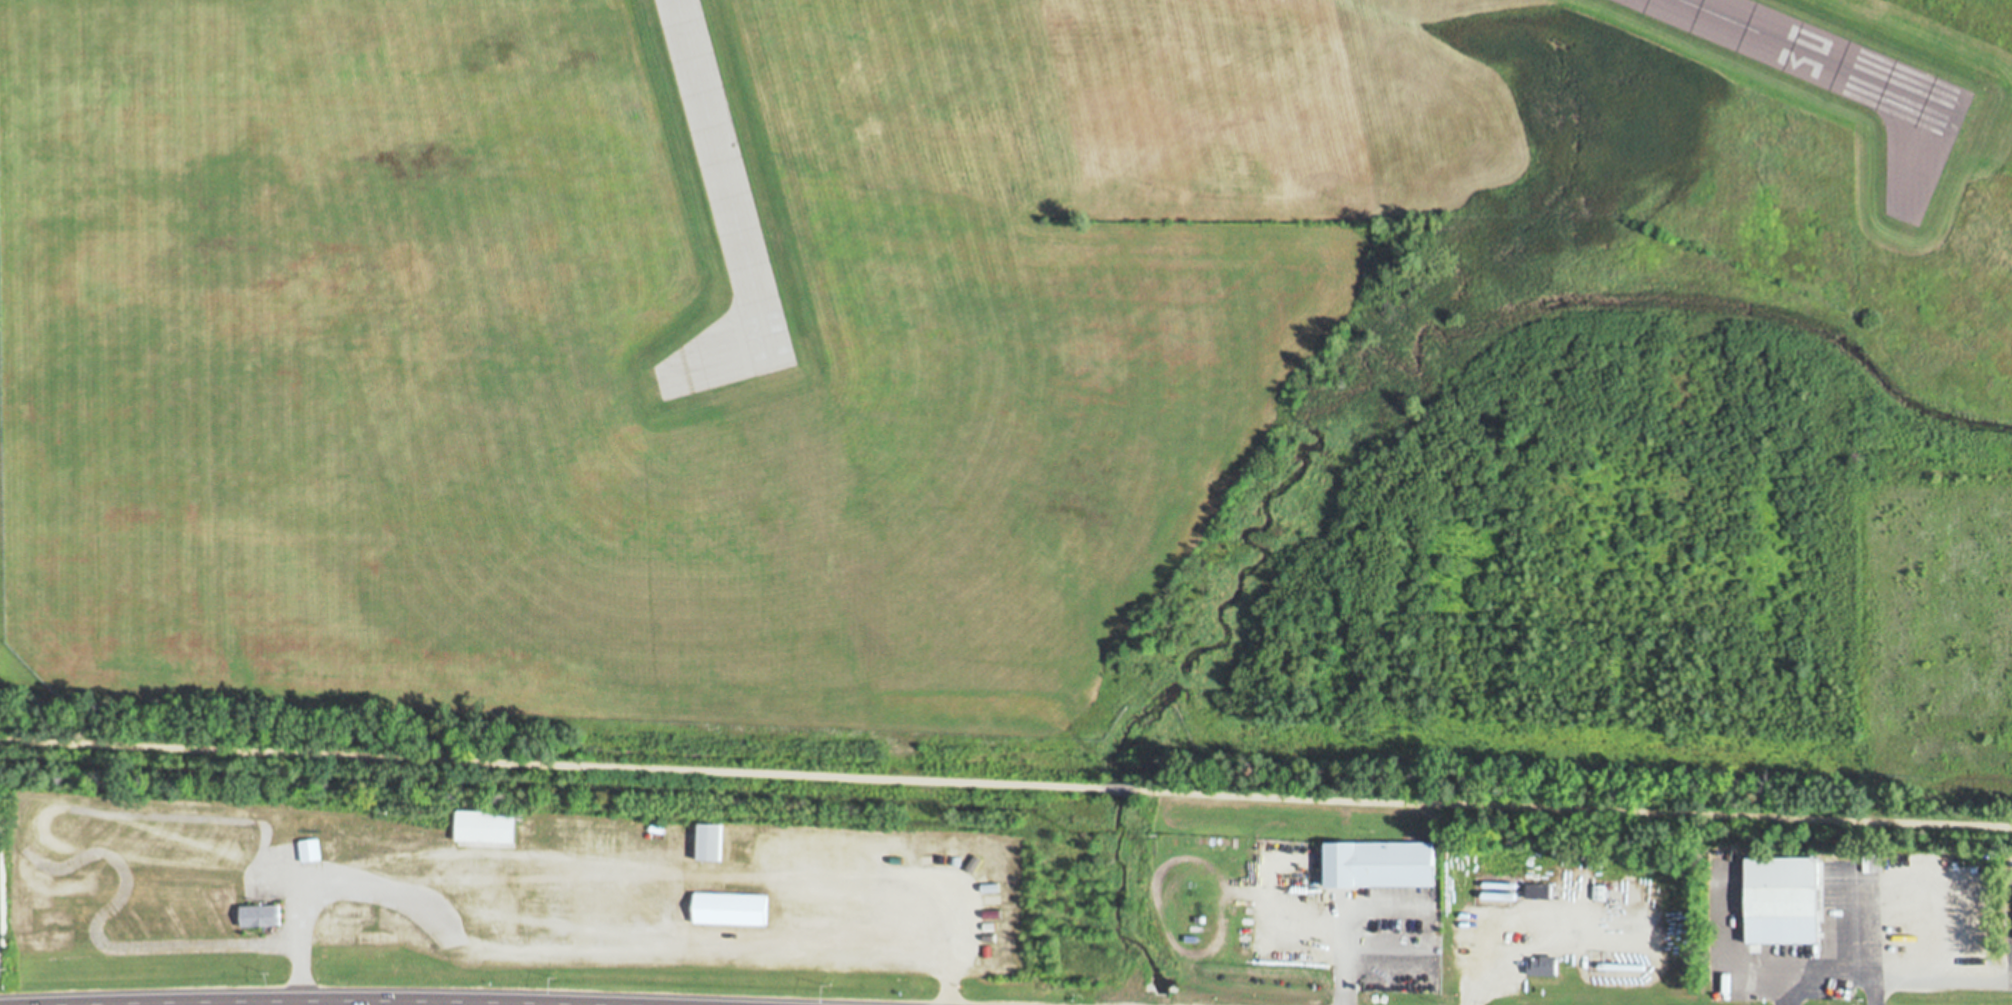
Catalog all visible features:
building: (655, 1)
airport runway: (1810, 51)
airport runway: (720, 168)
airport: (1027, 367)
road: (549, 761)
road: (1118, 787)
road: (1574, 807)
building: (487, 825)
building: (711, 841)
building: (310, 849)
building: (1383, 863)
building: (3, 880)
building: (1539, 890)
building: (1789, 892)
building: (731, 908)
building: (261, 915)
road: (1347, 918)
road: (1876, 940)
building: (1544, 964)
road: (1885, 982)

